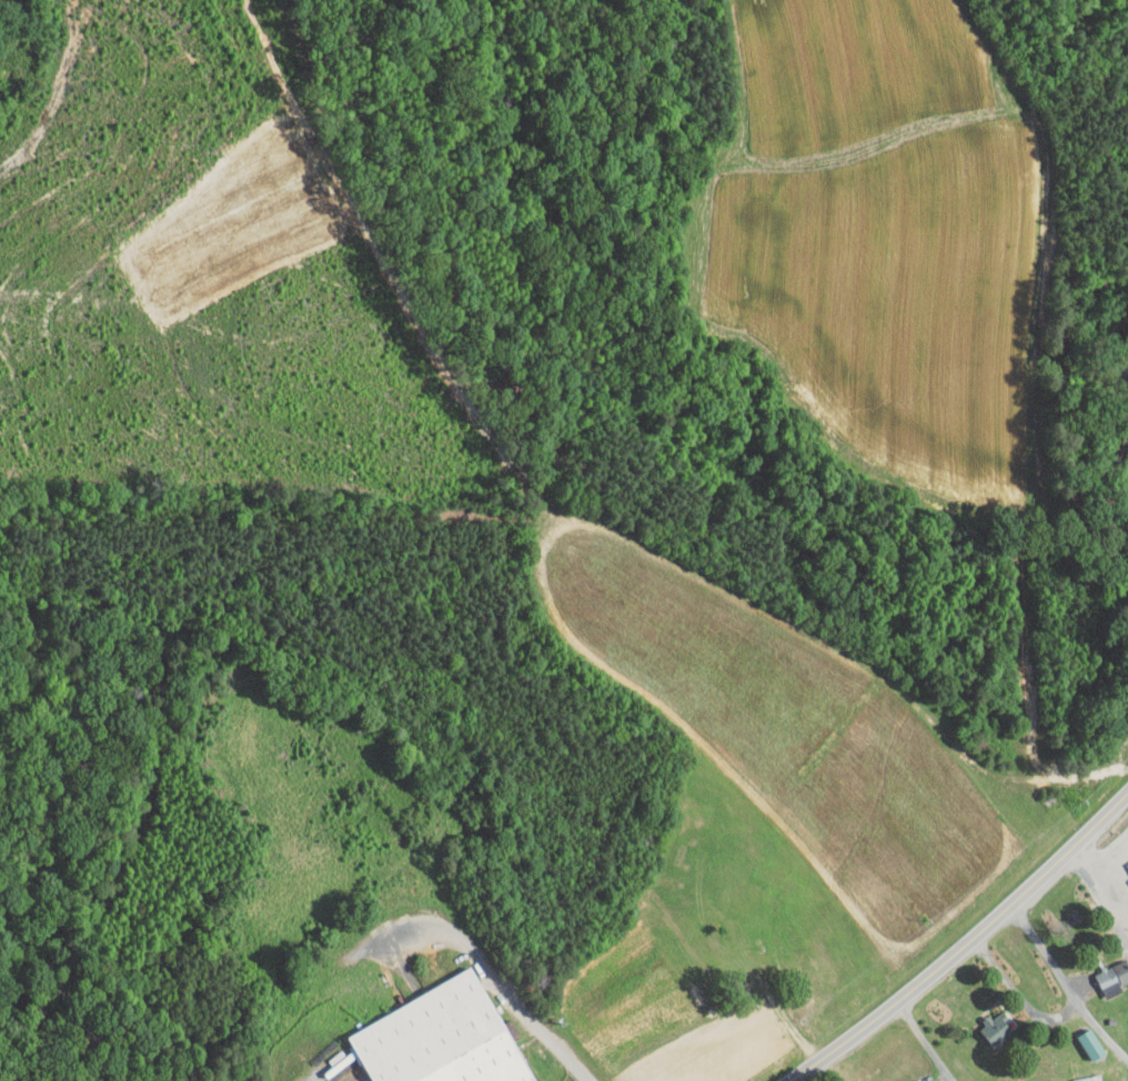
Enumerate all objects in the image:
road: (1102, 860)
building: (1122, 866)
road: (967, 946)
building: (1105, 969)
road: (500, 981)
road: (1066, 982)
road: (1017, 999)
building: (986, 1021)
building: (434, 1033)
building: (1079, 1037)
road: (927, 1042)
building: (1070, 1075)
building: (906, 1078)

